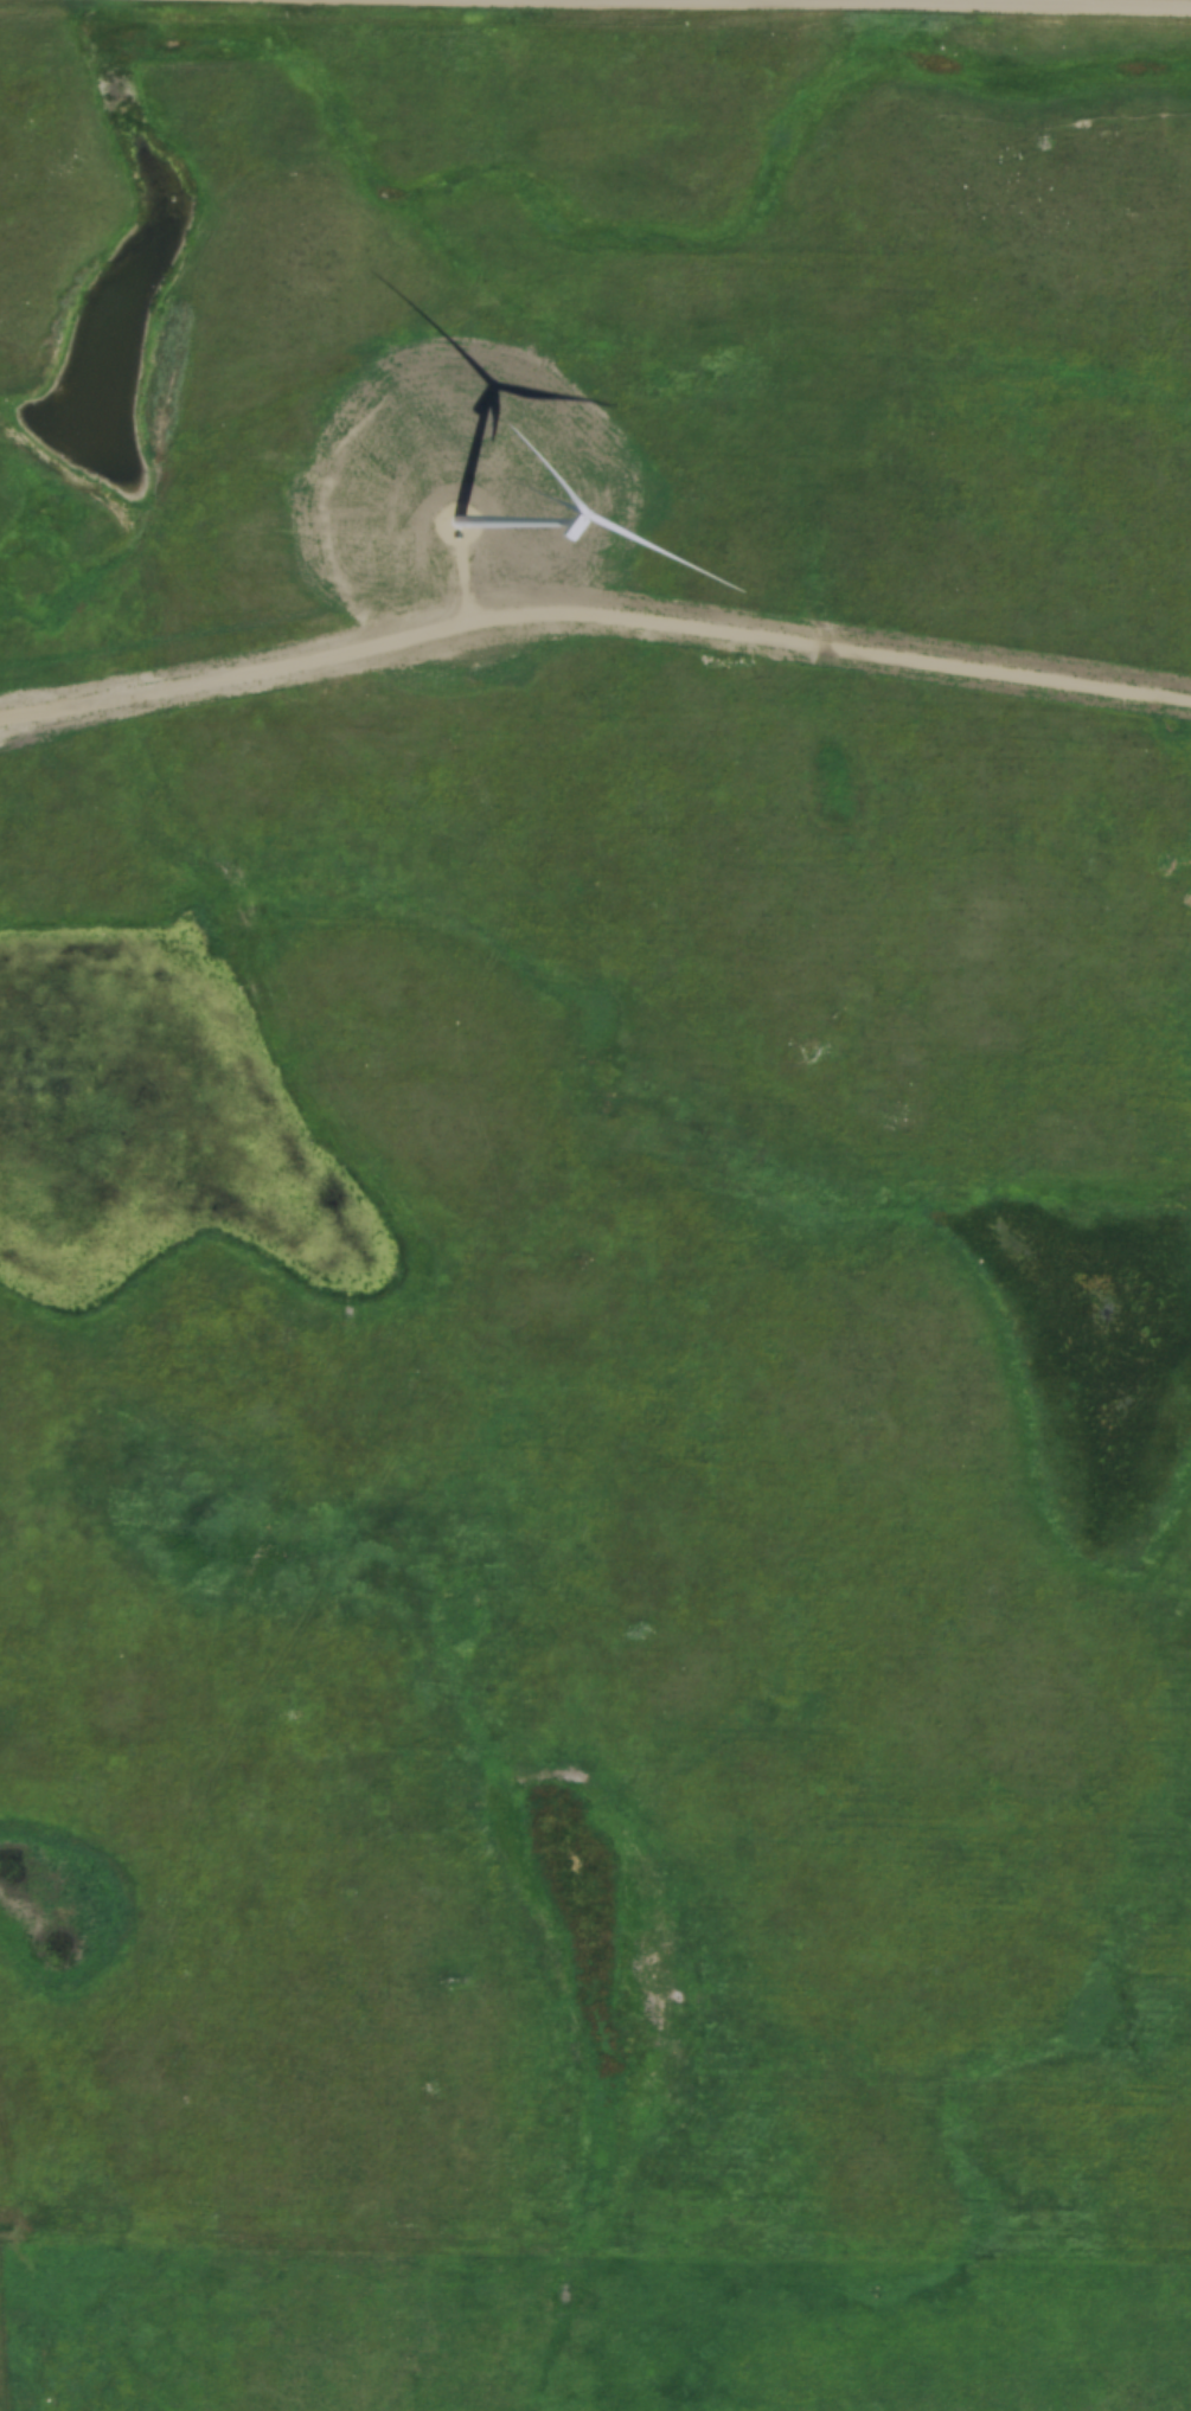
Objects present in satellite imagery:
road: (979, 4)
wind turbine: (459, 522)

